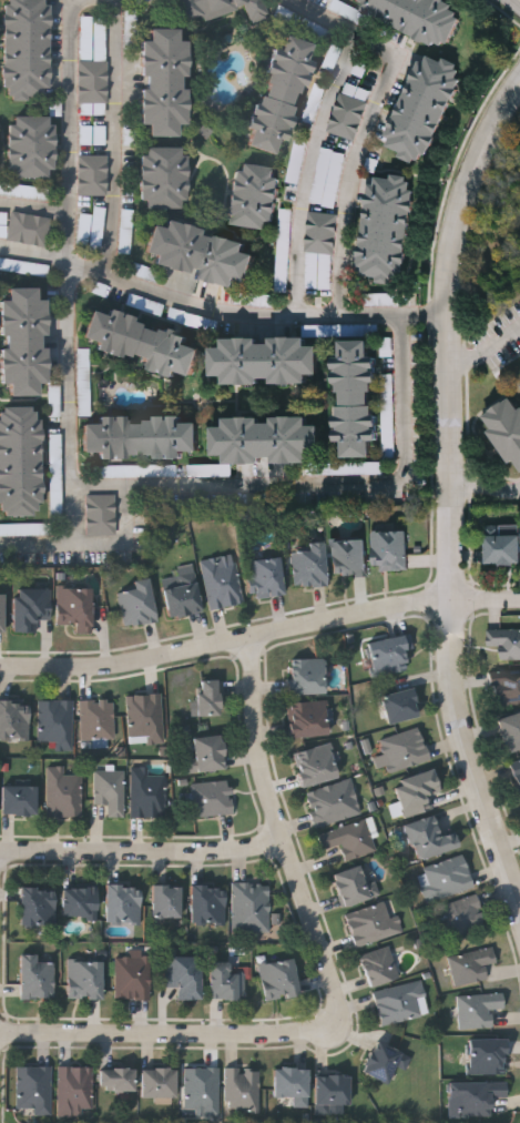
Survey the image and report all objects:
road: (519, 0)
building: (220, 8)
building: (417, 16)
building: (26, 48)
building: (93, 65)
building: (163, 80)
building: (278, 92)
building: (422, 105)
building: (349, 111)
road: (69, 119)
road: (368, 125)
road: (114, 138)
building: (31, 144)
road: (308, 168)
building: (93, 175)
building: (164, 176)
building: (294, 176)
building: (328, 176)
building: (254, 194)
road: (33, 206)
building: (23, 225)
building: (386, 225)
building: (98, 226)
building: (85, 227)
building: (284, 247)
building: (320, 250)
building: (200, 252)
road: (241, 310)
road: (436, 310)
building: (23, 340)
road: (451, 341)
building: (141, 342)
road: (487, 345)
building: (265, 358)
building: (356, 395)
road: (71, 398)
building: (54, 403)
building: (388, 408)
building: (506, 427)
building: (141, 435)
building: (266, 437)
building: (20, 459)
building: (358, 467)
building: (133, 471)
road: (320, 483)
road: (486, 483)
building: (101, 515)
road: (129, 538)
building: (502, 549)
building: (390, 550)
building: (349, 558)
building: (310, 566)
building: (265, 578)
building: (222, 584)
building: (183, 597)
building: (136, 604)
building: (31, 608)
building: (74, 608)
building: (2, 613)
road: (259, 638)
building: (504, 643)
building: (388, 655)
building: (306, 677)
building: (504, 687)
building: (207, 698)
building: (400, 706)
building: (98, 719)
building: (146, 719)
building: (309, 719)
building: (14, 720)
building: (57, 724)
building: (510, 731)
building: (406, 750)
road: (471, 753)
building: (207, 755)
building: (316, 766)
building: (517, 771)
building: (110, 791)
building: (63, 793)
building: (417, 793)
building: (146, 795)
building: (212, 799)
building: (19, 801)
building: (334, 805)
road: (283, 834)
building: (429, 839)
building: (349, 840)
road: (142, 850)
building: (446, 880)
building: (355, 886)
building: (166, 902)
building: (80, 903)
building: (124, 906)
building: (207, 906)
building: (38, 908)
building: (251, 909)
building: (463, 917)
building: (373, 925)
building: (379, 967)
building: (472, 967)
building: (184, 977)
building: (35, 978)
building: (133, 978)
building: (85, 980)
building: (279, 980)
building: (226, 983)
building: (401, 1003)
building: (479, 1011)
road: (170, 1034)
building: (488, 1058)
building: (385, 1062)
building: (118, 1081)
building: (159, 1084)
building: (293, 1086)
building: (34, 1091)
building: (243, 1091)
building: (75, 1092)
building: (202, 1092)
building: (332, 1095)
building: (473, 1099)

